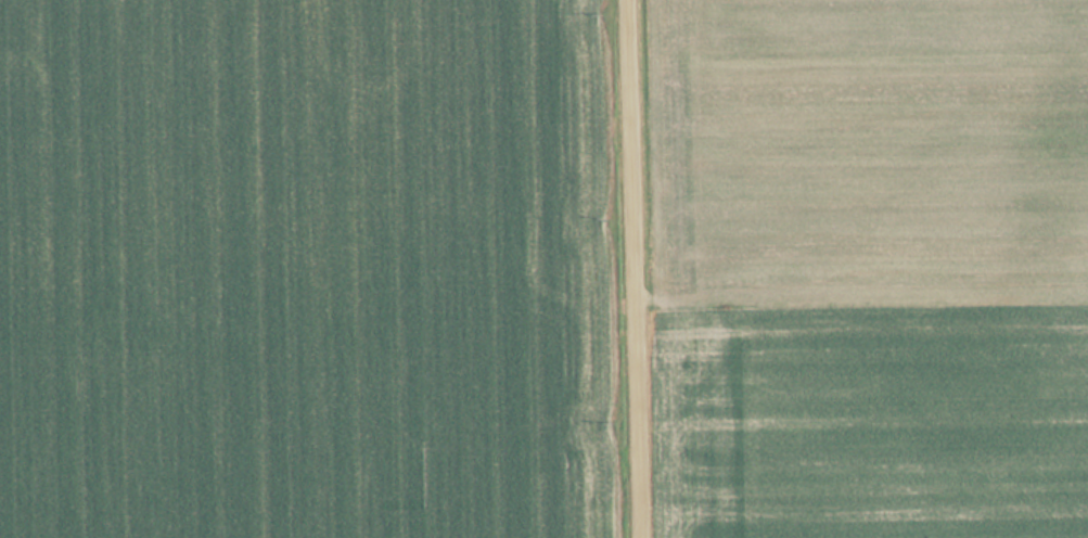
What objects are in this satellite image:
road: (640, 269)

